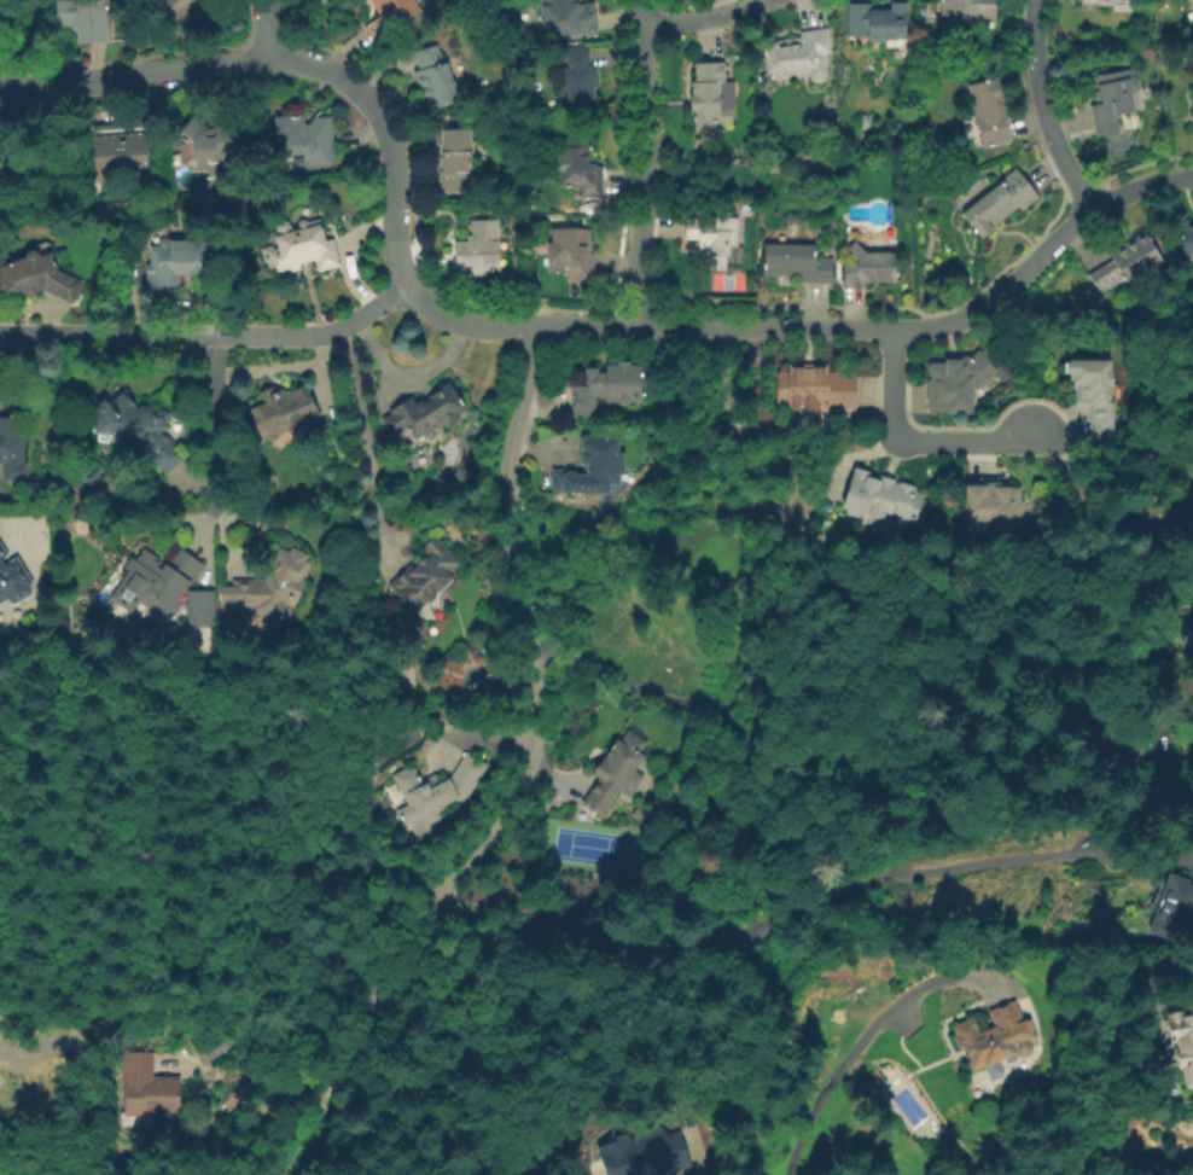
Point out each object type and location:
building: (1102, 1)
building: (1, 2)
building: (196, 7)
building: (968, 8)
building: (390, 16)
road: (703, 16)
building: (569, 18)
building: (85, 19)
building: (877, 22)
road: (278, 31)
building: (796, 52)
road: (285, 65)
building: (433, 78)
building: (580, 80)
building: (708, 97)
building: (1113, 99)
building: (1192, 101)
road: (1046, 109)
building: (989, 111)
building: (210, 139)
building: (303, 141)
building: (118, 144)
building: (452, 157)
road: (648, 162)
building: (34, 167)
building: (578, 168)
building: (999, 203)
building: (793, 223)
building: (715, 235)
building: (1186, 240)
building: (301, 249)
building: (478, 250)
building: (571, 254)
building: (176, 263)
building: (1127, 263)
building: (797, 264)
building: (868, 268)
building: (36, 279)
road: (816, 325)
road: (210, 339)
building: (960, 379)
road: (405, 382)
building: (811, 388)
building: (605, 389)
building: (1093, 389)
building: (284, 411)
building: (426, 413)
road: (519, 414)
road: (214, 424)
building: (138, 431)
road: (362, 432)
road: (913, 438)
building: (12, 450)
building: (592, 465)
building: (93, 488)
building: (880, 500)
building: (990, 502)
building: (1183, 520)
building: (426, 575)
building: (13, 578)
building: (157, 580)
building: (268, 589)
building: (200, 607)
road: (531, 712)
road: (791, 735)
building: (1122, 743)
building: (366, 768)
building: (616, 772)
building: (438, 791)
park: (587, 847)
road: (809, 903)
building: (1175, 906)
road: (239, 995)
road: (491, 1026)
road: (354, 1033)
building: (989, 1036)
building: (1185, 1037)
road: (862, 1040)
building: (147, 1087)
building: (644, 1153)
road: (1139, 1163)

